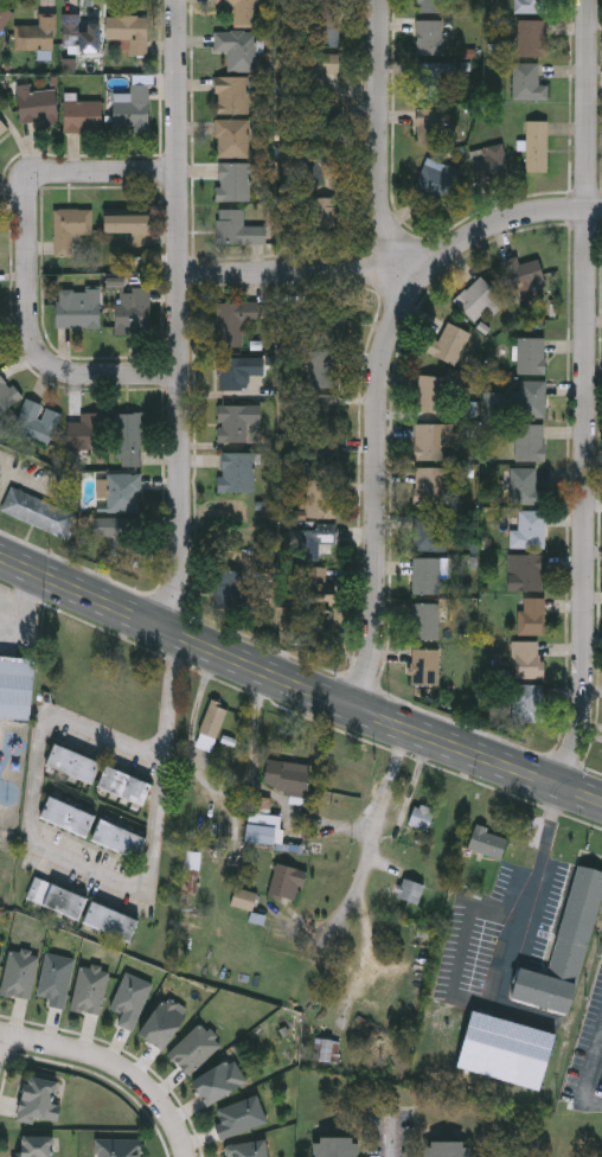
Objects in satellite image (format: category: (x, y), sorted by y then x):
building: (326, 0)
building: (532, 6)
building: (241, 11)
building: (4, 18)
building: (324, 27)
building: (128, 33)
building: (38, 36)
building: (79, 36)
building: (427, 36)
building: (532, 37)
building: (237, 47)
building: (318, 71)
building: (428, 79)
building: (527, 81)
building: (231, 94)
building: (34, 102)
building: (133, 109)
building: (83, 115)
building: (320, 120)
building: (2, 126)
building: (430, 126)
building: (232, 136)
road: (380, 143)
building: (537, 146)
building: (491, 162)
building: (314, 166)
building: (430, 177)
building: (232, 180)
building: (325, 213)
building: (128, 223)
building: (69, 226)
building: (237, 228)
road: (30, 267)
road: (399, 271)
building: (523, 275)
building: (475, 299)
building: (79, 308)
building: (132, 309)
road: (180, 314)
building: (233, 320)
building: (333, 326)
building: (446, 344)
building: (531, 356)
building: (322, 367)
building: (237, 370)
building: (6, 392)
road: (589, 392)
building: (434, 394)
building: (527, 398)
building: (493, 404)
building: (320, 411)
building: (37, 420)
building: (235, 420)
building: (87, 430)
building: (128, 437)
building: (431, 440)
building: (530, 442)
building: (324, 454)
building: (236, 471)
road: (379, 482)
building: (523, 485)
building: (428, 486)
building: (123, 490)
building: (318, 497)
building: (38, 511)
building: (529, 529)
building: (119, 532)
building: (430, 532)
building: (318, 539)
building: (525, 571)
building: (427, 576)
building: (319, 597)
road: (28, 614)
building: (531, 616)
building: (424, 621)
building: (319, 626)
road: (205, 641)
building: (526, 660)
building: (425, 671)
building: (17, 685)
building: (527, 703)
building: (211, 725)
road: (507, 761)
building: (72, 763)
building: (286, 774)
building: (123, 785)
road: (214, 788)
building: (66, 816)
building: (422, 816)
road: (309, 819)
building: (263, 827)
road: (379, 827)
building: (119, 838)
building: (487, 840)
road: (87, 863)
building: (286, 881)
road: (530, 887)
building: (410, 889)
building: (56, 897)
building: (110, 921)
building: (565, 950)
building: (0, 964)
building: (0, 967)
building: (20, 973)
building: (57, 979)
building: (91, 990)
building: (130, 1001)
building: (162, 1022)
road: (1, 1044)
building: (502, 1048)
building: (194, 1050)
road: (113, 1067)
road: (589, 1076)
building: (218, 1081)
building: (39, 1099)
building: (241, 1117)
road: (390, 1145)
building: (34, 1146)
building: (334, 1146)
building: (119, 1148)
building: (447, 1149)
building: (248, 1150)

